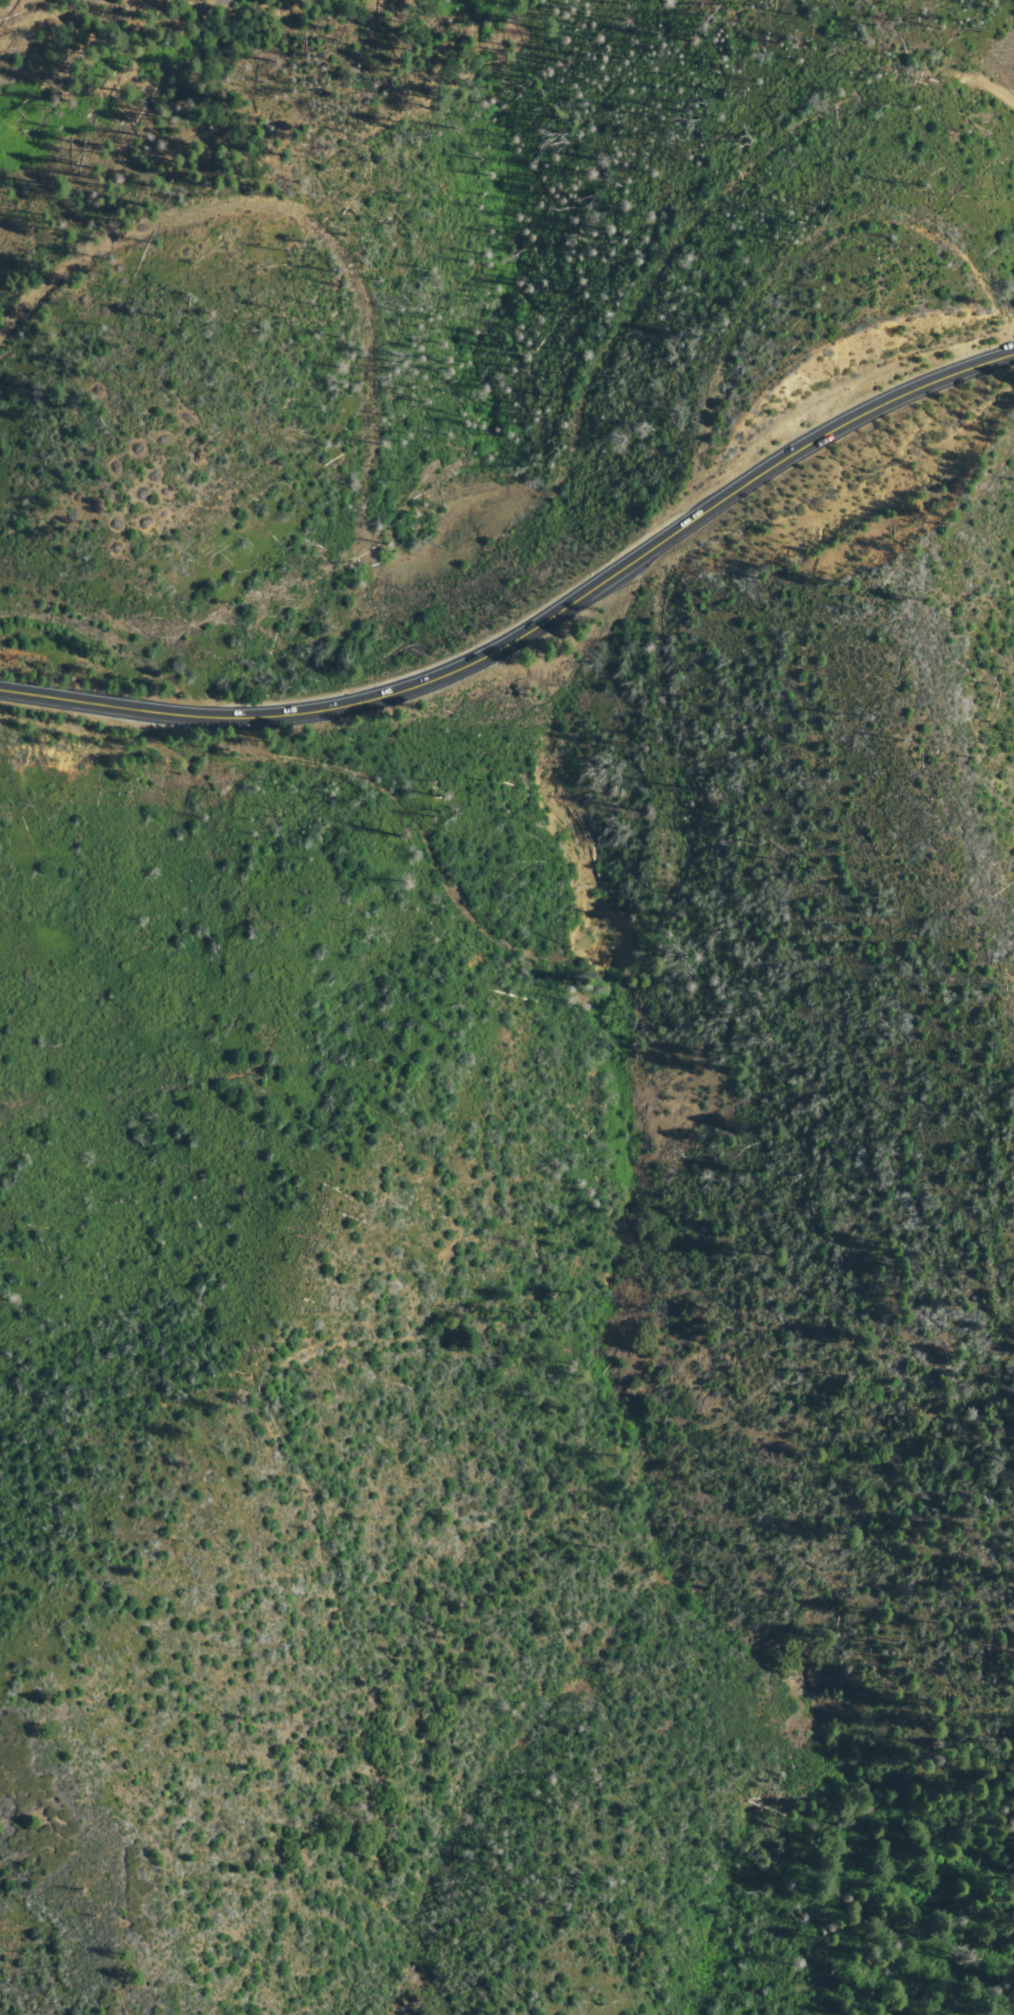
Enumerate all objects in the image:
road: (108, 33)
road: (537, 628)

